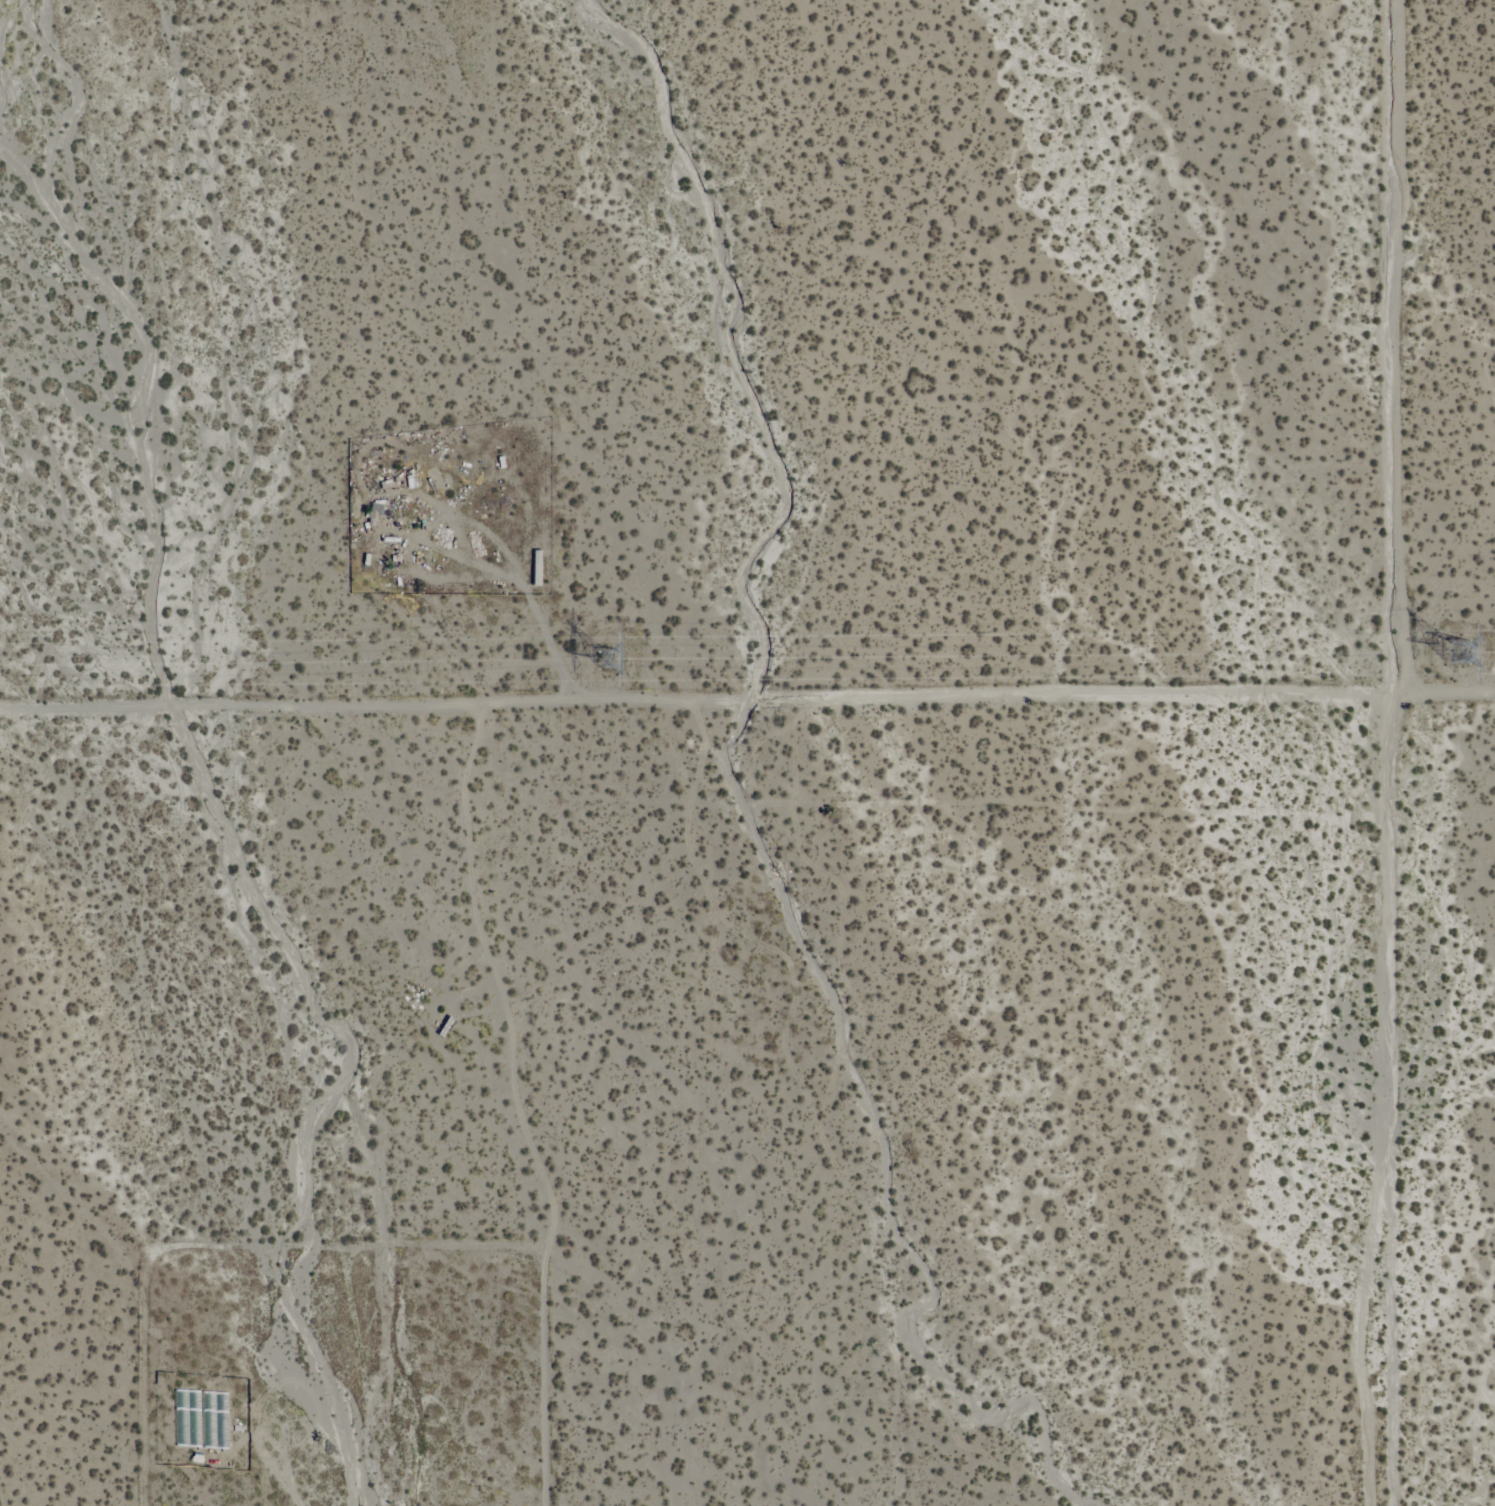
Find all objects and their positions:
power tower: (1476, 663)
power tower: (623, 667)
road: (747, 701)
road: (1391, 753)

